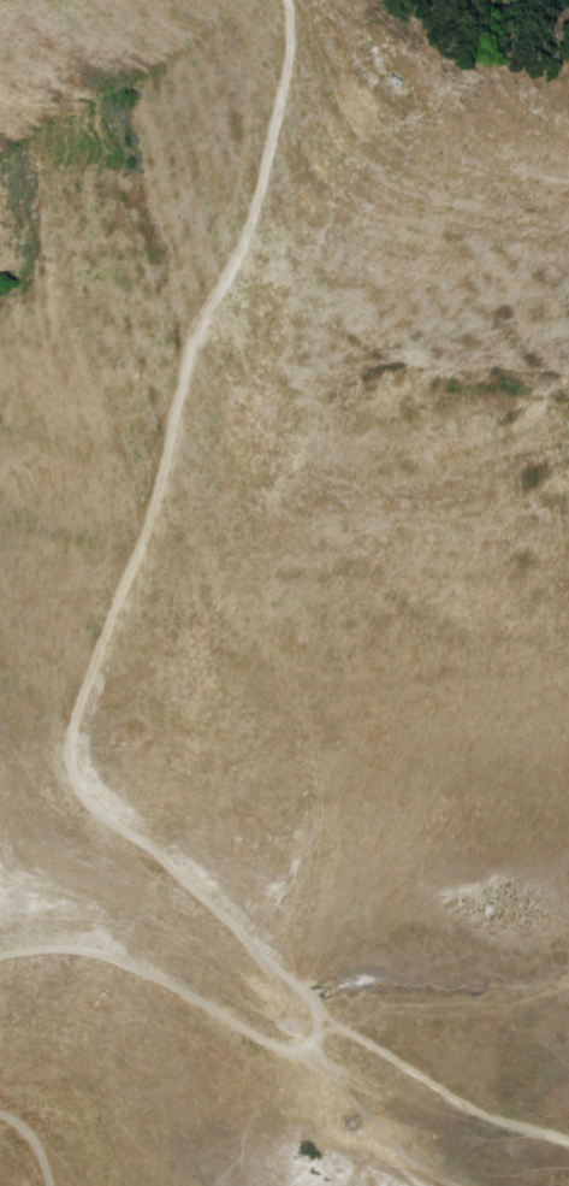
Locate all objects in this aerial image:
road: (93, 679)
road: (178, 990)
road: (41, 1138)

